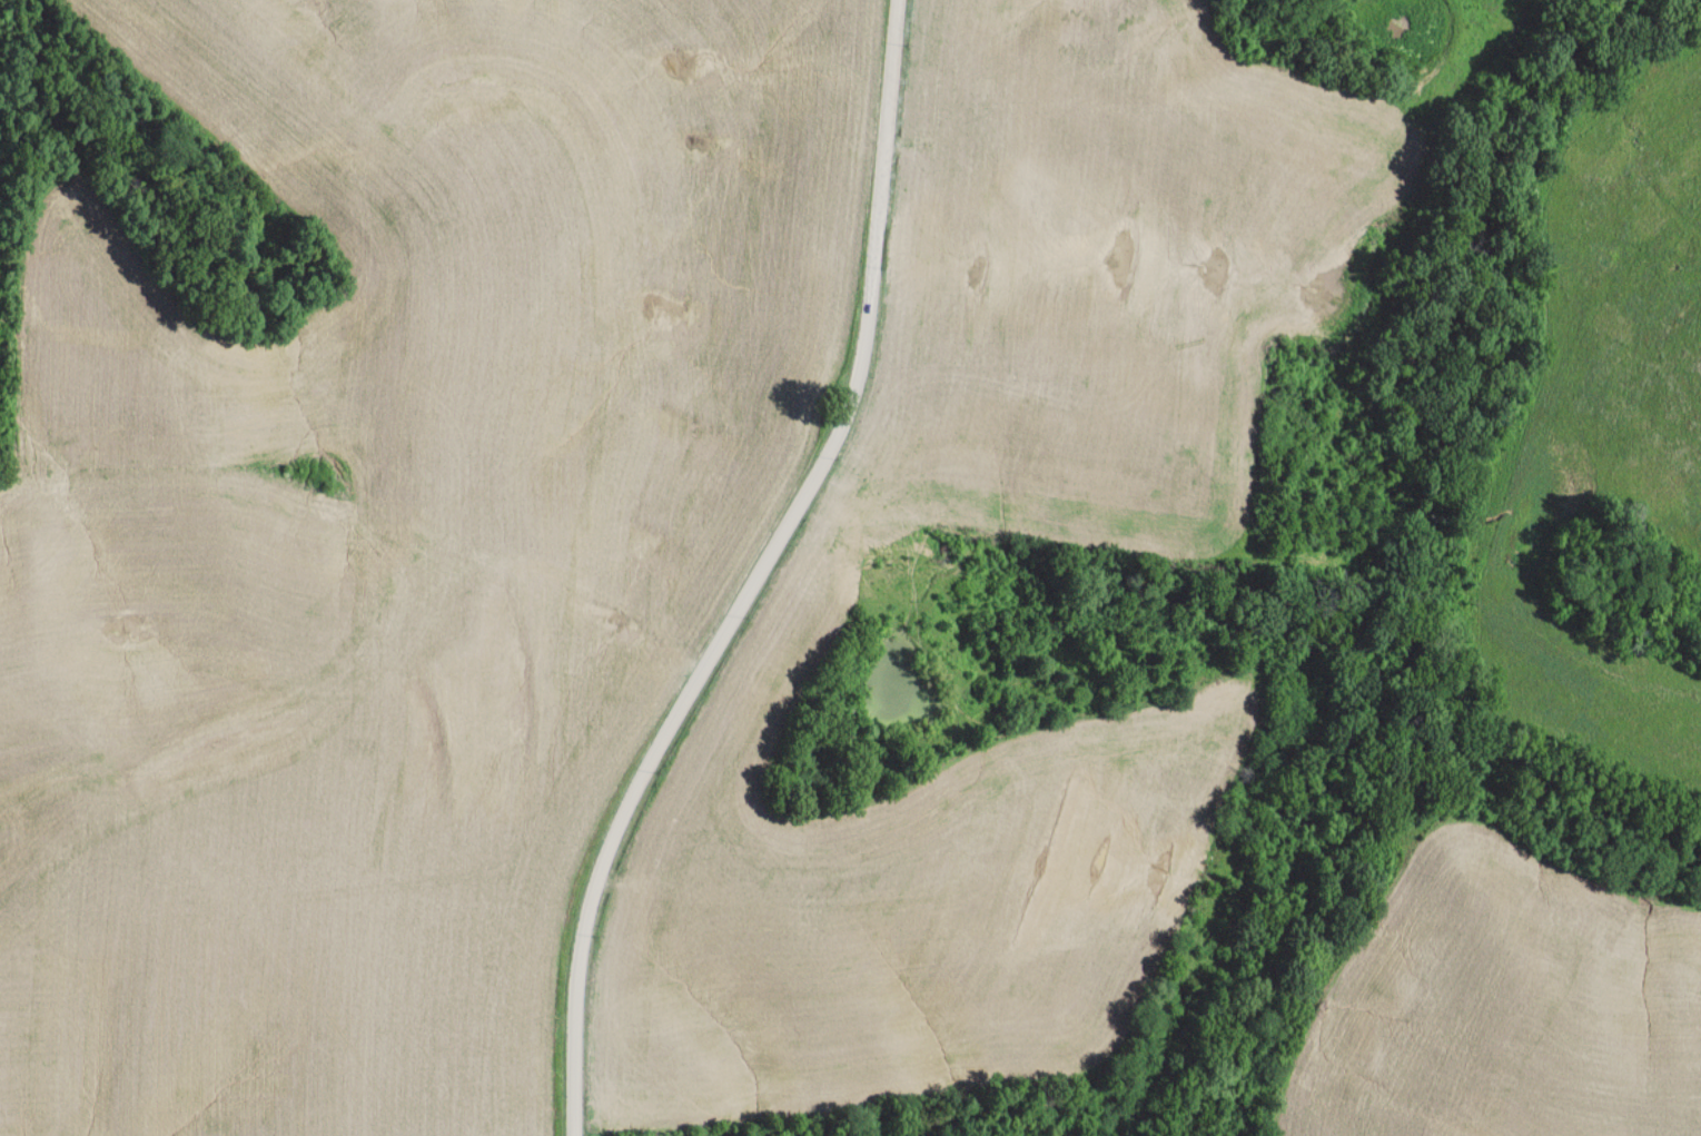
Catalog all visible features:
road: (768, 577)

